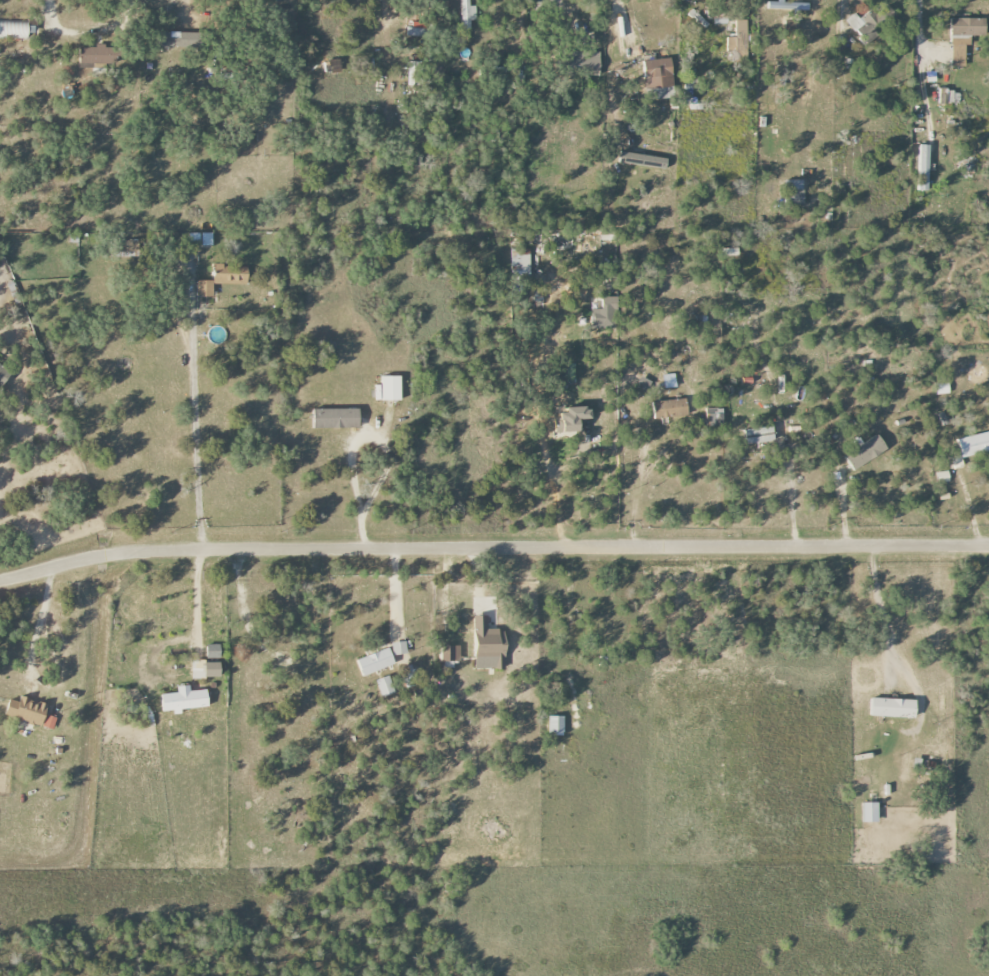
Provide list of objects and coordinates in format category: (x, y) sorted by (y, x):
road: (811, 0)
building: (788, 6)
road: (185, 7)
road: (839, 13)
building: (467, 14)
road: (622, 19)
building: (865, 25)
building: (417, 29)
building: (16, 30)
road: (86, 31)
building: (963, 37)
building: (179, 39)
building: (739, 39)
building: (97, 55)
building: (583, 61)
road: (919, 62)
road: (608, 68)
building: (414, 74)
building: (658, 79)
building: (687, 91)
building: (949, 97)
building: (642, 159)
building: (923, 167)
building: (793, 192)
building: (607, 235)
building: (200, 239)
building: (129, 247)
building: (729, 252)
building: (519, 265)
building: (230, 275)
building: (204, 288)
building: (604, 314)
building: (3, 375)
building: (669, 381)
building: (391, 388)
building: (941, 389)
road: (197, 408)
building: (669, 408)
building: (713, 417)
building: (336, 418)
building: (570, 419)
building: (759, 435)
building: (973, 444)
building: (865, 453)
building: (942, 477)
road: (357, 486)
road: (792, 487)
road: (553, 489)
road: (492, 548)
road: (390, 593)
road: (192, 599)
road: (876, 608)
road: (42, 624)
building: (488, 646)
building: (398, 648)
building: (213, 651)
building: (449, 653)
building: (375, 662)
building: (205, 669)
building: (407, 674)
building: (384, 687)
building: (185, 700)
building: (893, 708)
building: (26, 711)
building: (49, 722)
building: (556, 726)
building: (870, 812)

